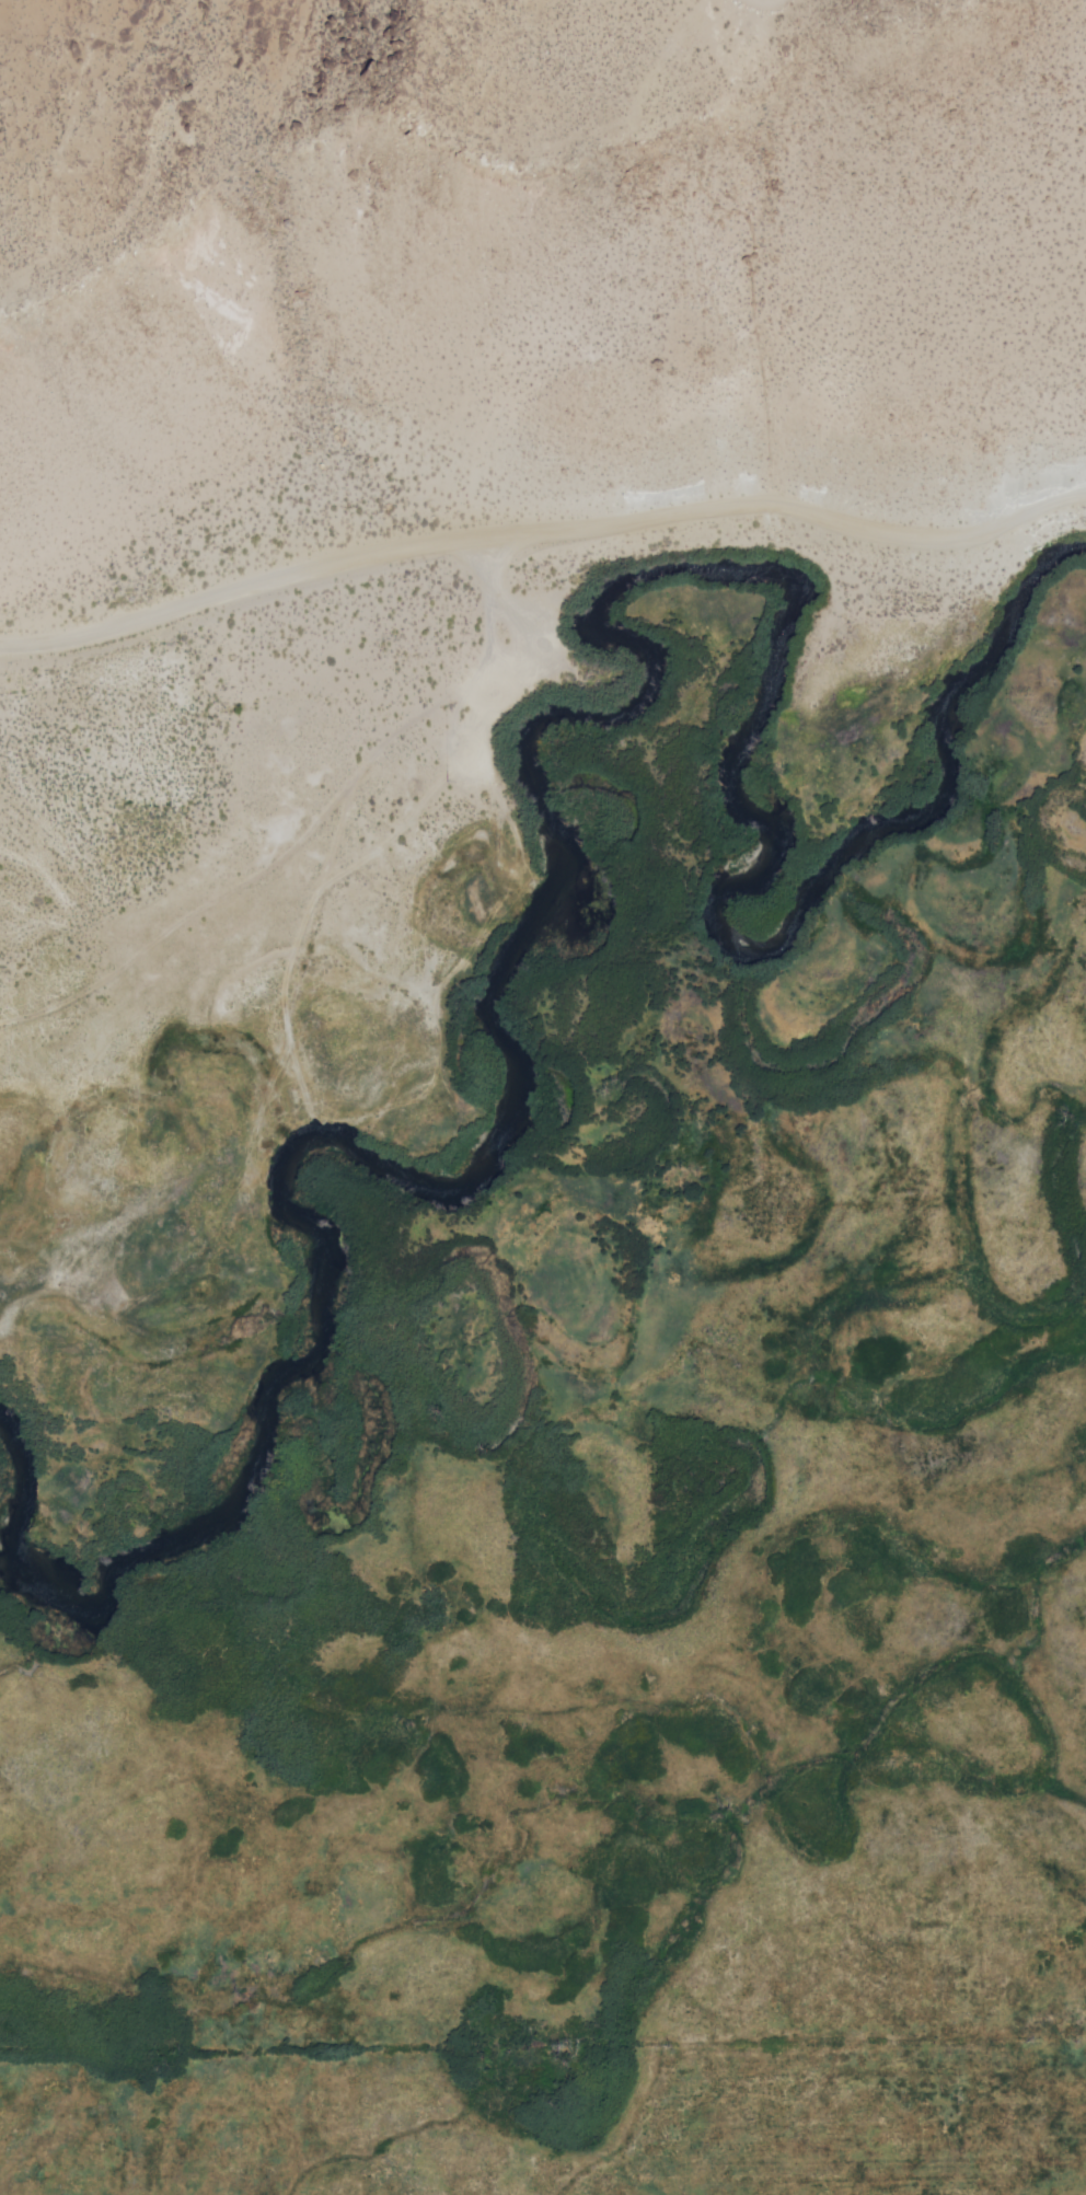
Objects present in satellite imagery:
road: (760, 5)
road: (612, 125)
road: (53, 194)
road: (542, 523)
river: (710, 592)
parking lot: (10, 658)
road: (476, 713)
river: (11, 1462)
river: (247, 1492)

